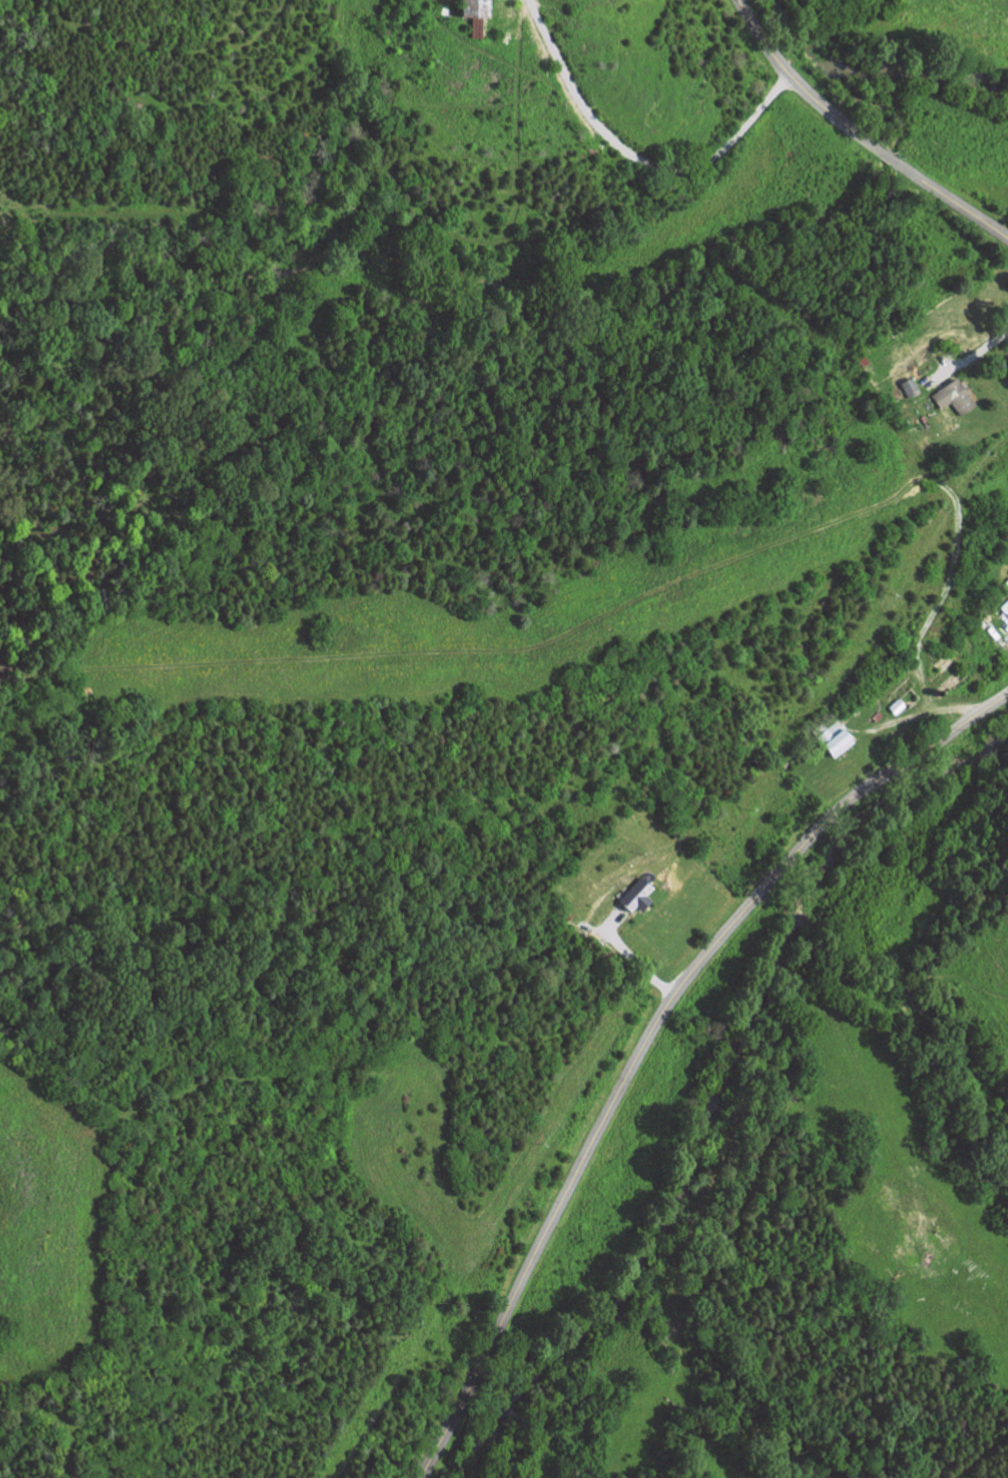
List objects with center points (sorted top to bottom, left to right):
building: (445, 10)
building: (484, 12)
road: (859, 132)
road: (636, 157)
road: (969, 356)
building: (911, 385)
building: (955, 395)
building: (1004, 605)
road: (602, 621)
building: (945, 672)
building: (903, 693)
road: (922, 714)
building: (874, 715)
building: (828, 734)
building: (892, 738)
building: (838, 742)
building: (635, 895)
road: (595, 929)
road: (631, 957)
road: (649, 1033)
road: (895, 1159)

